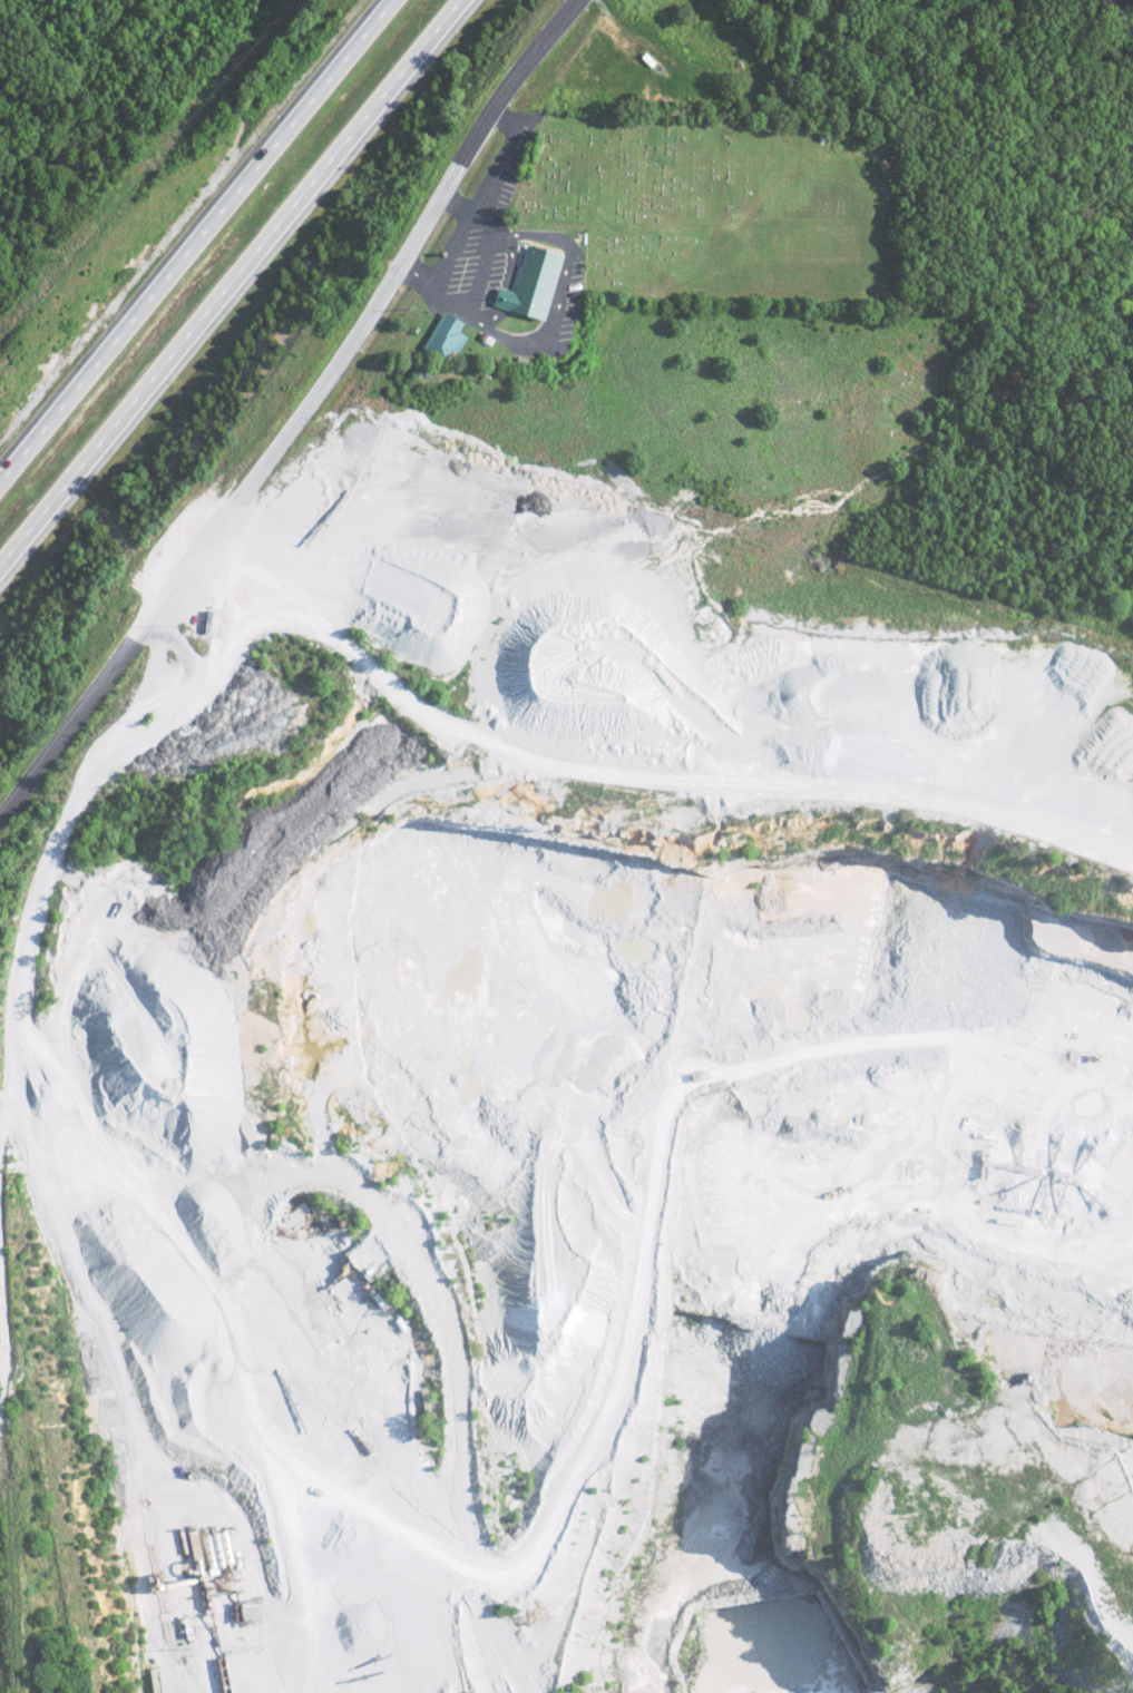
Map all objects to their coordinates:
road: (1119, 6)
road: (197, 243)
road: (228, 281)
building: (526, 284)
building: (441, 336)
road: (297, 415)

